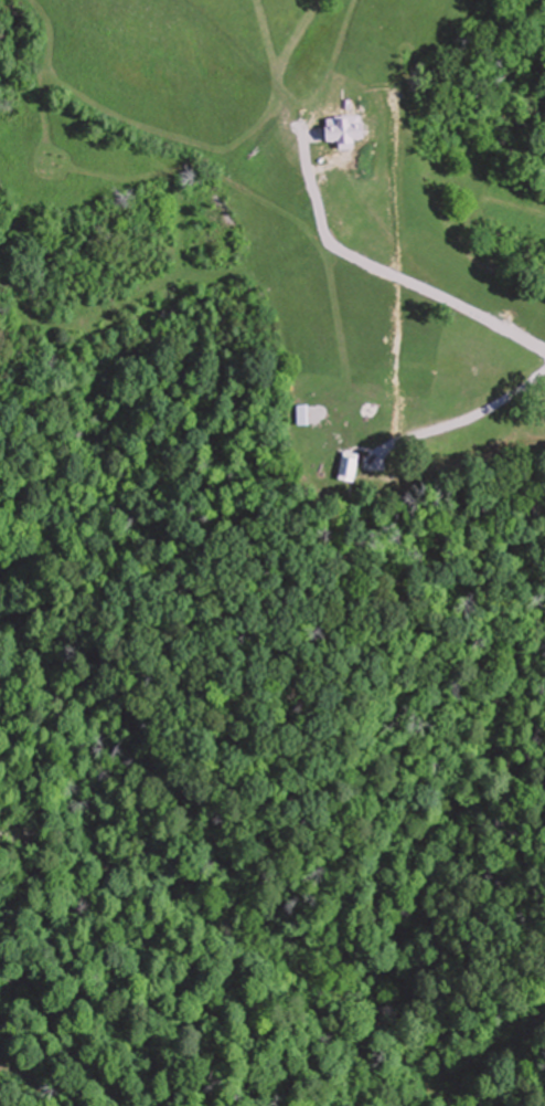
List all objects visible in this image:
road: (330, 178)
building: (350, 464)

